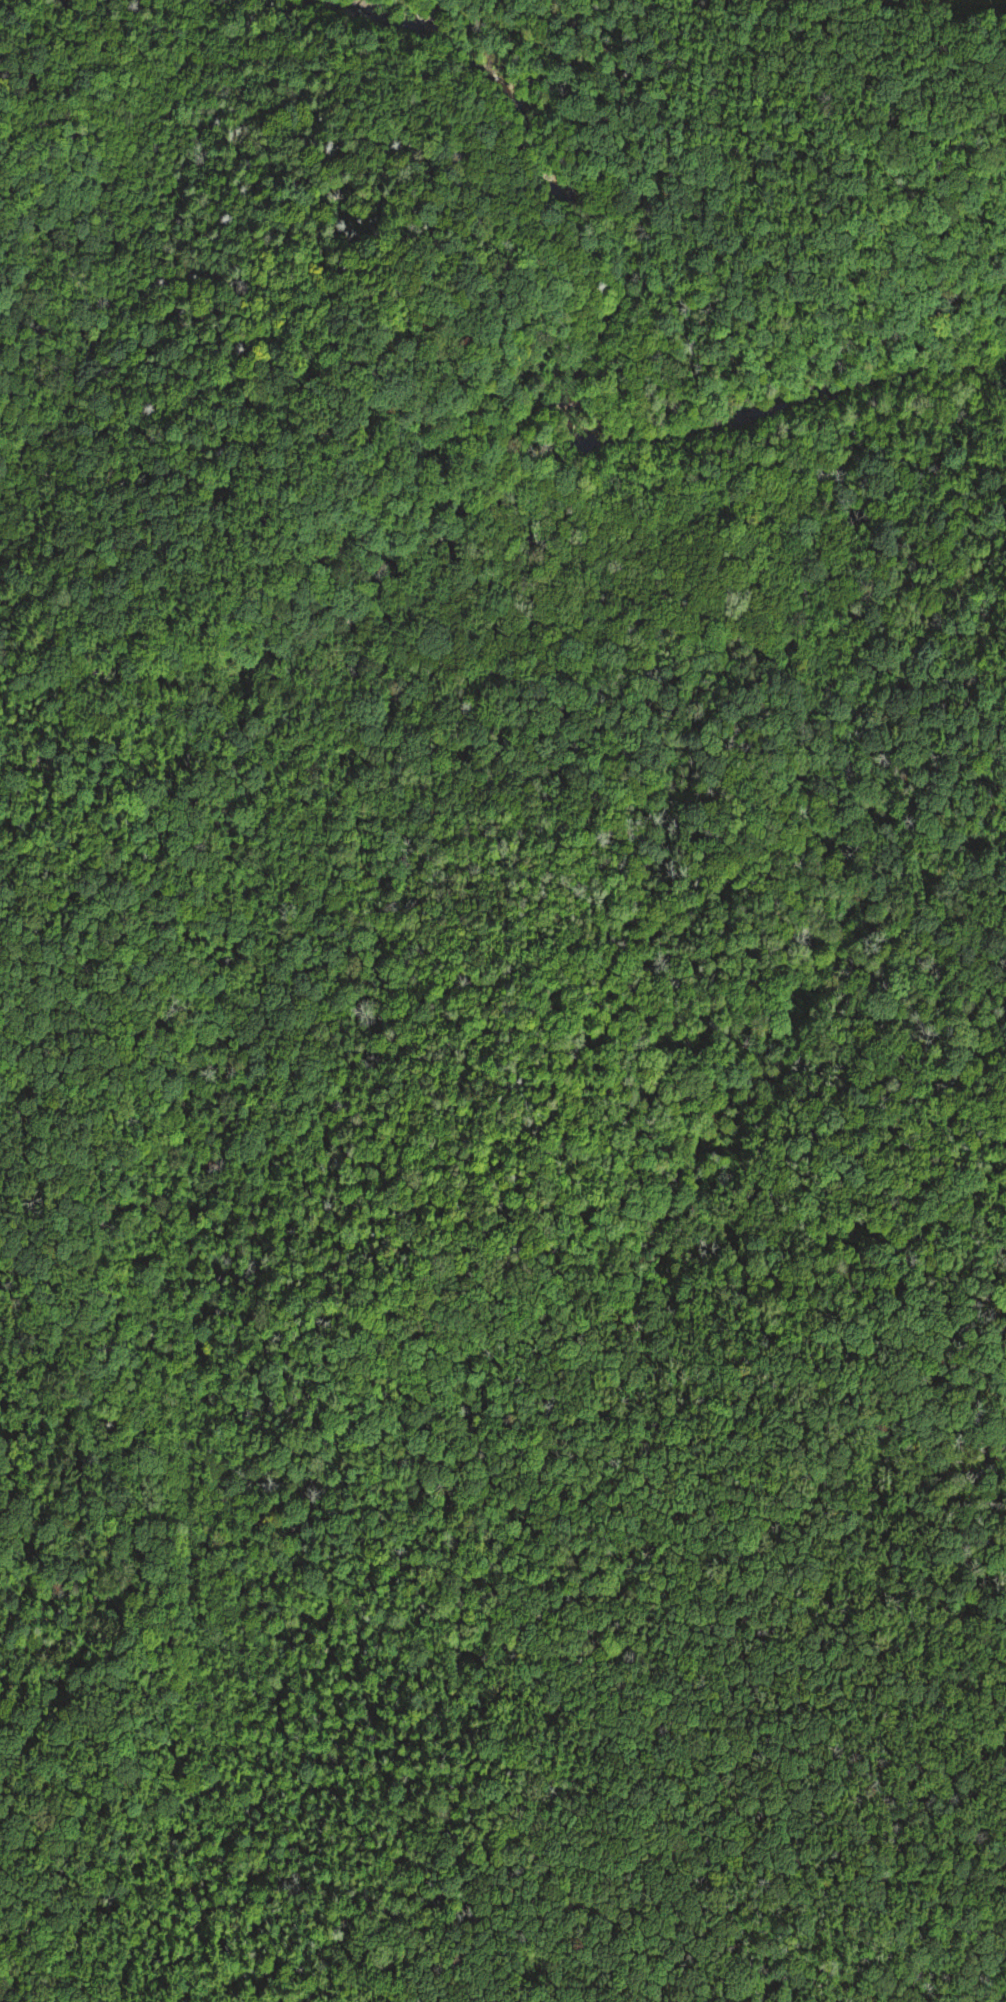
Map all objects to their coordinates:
building: (784, 3)
road: (549, 233)

